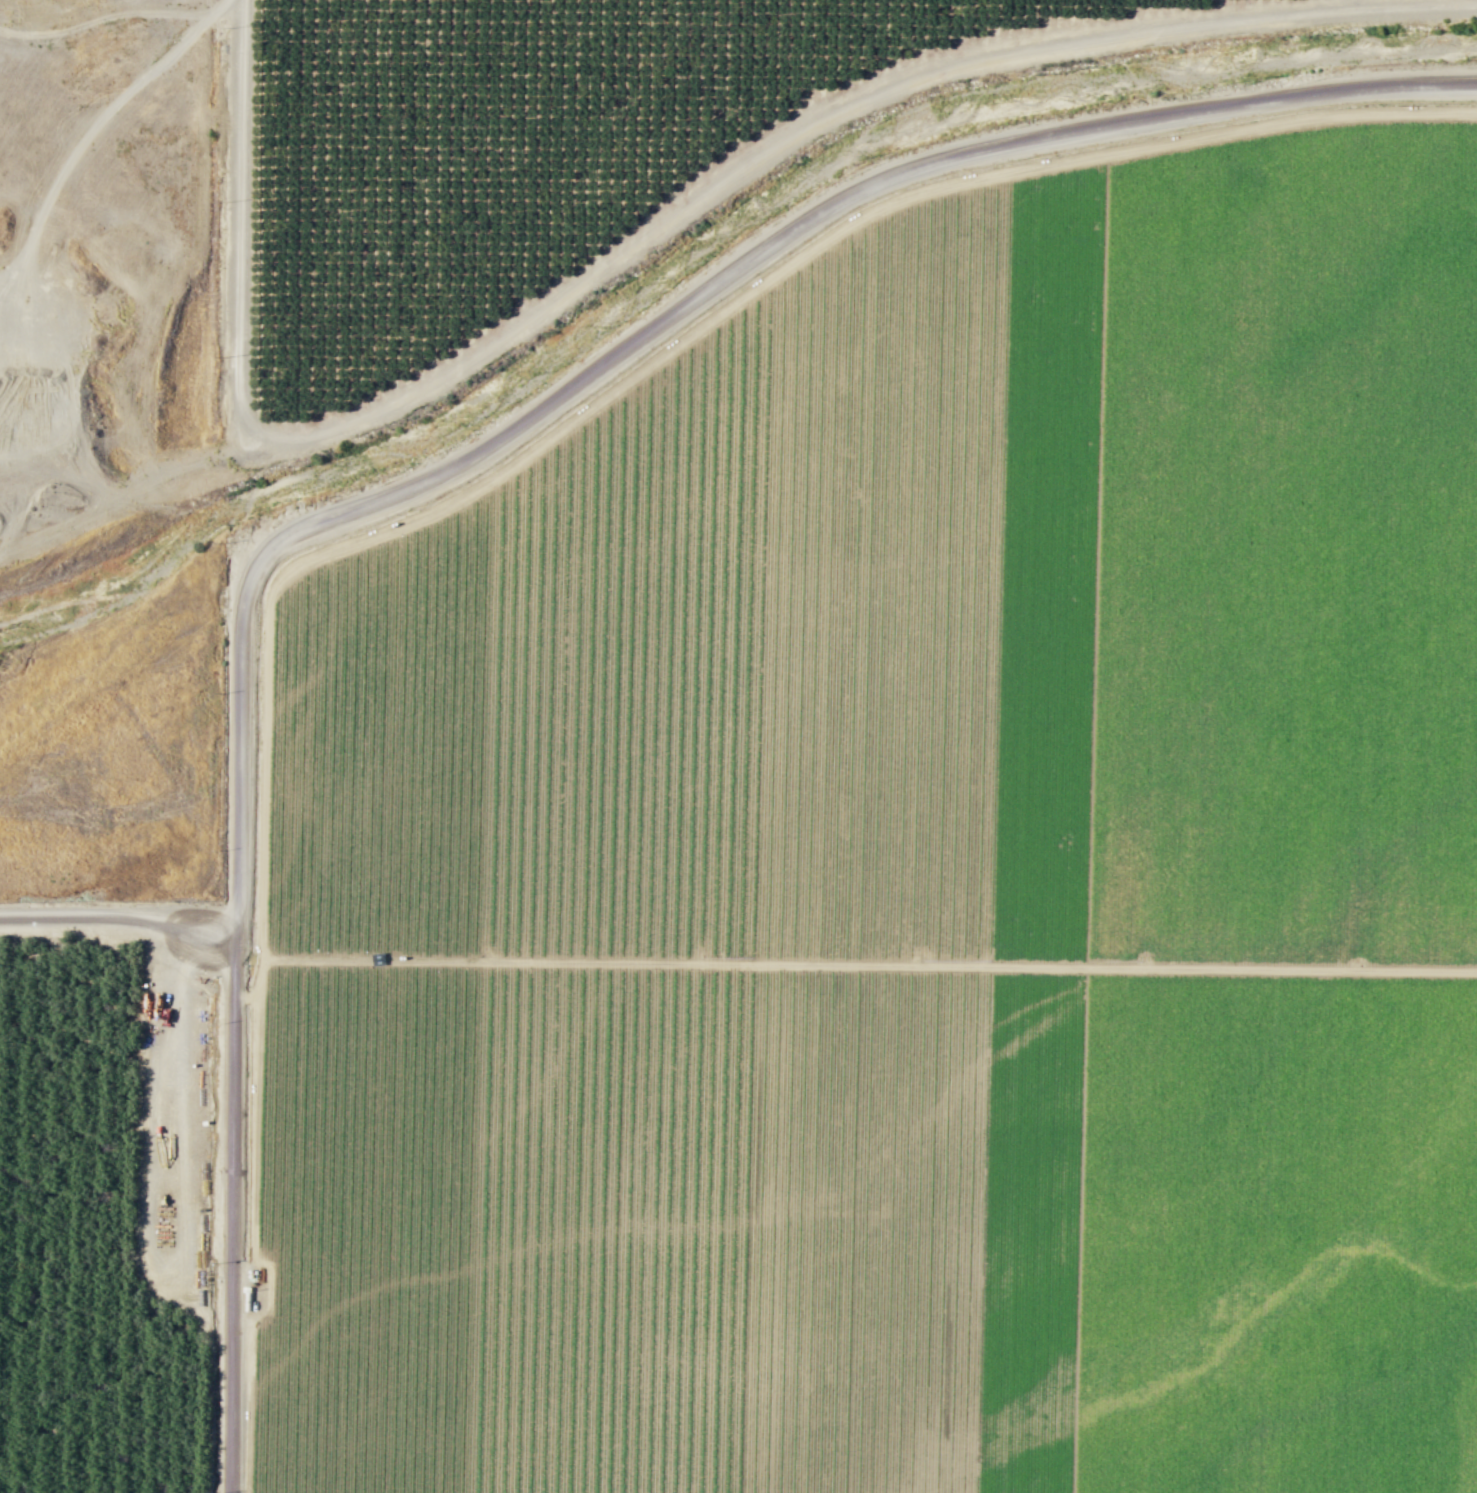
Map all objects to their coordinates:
road: (105, 17)
road: (875, 174)
road: (34, 226)
road: (642, 241)
road: (555, 431)
road: (128, 492)
road: (117, 915)
road: (868, 965)
road: (233, 966)
road: (183, 1209)
road: (243, 1272)
road: (248, 1372)

